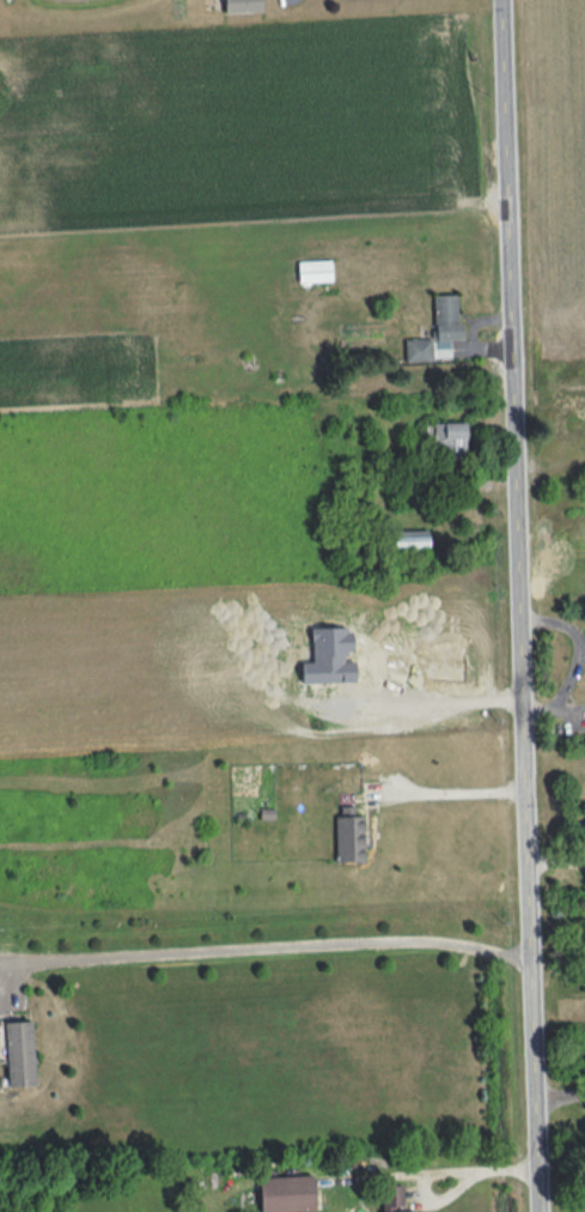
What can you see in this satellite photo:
building: (242, 6)
crop: (230, 144)
building: (315, 271)
building: (437, 332)
building: (449, 437)
building: (409, 538)
crop: (188, 582)
road: (517, 606)
building: (329, 656)
road: (446, 702)
road: (459, 794)
building: (349, 837)
road: (555, 861)
road: (264, 946)
building: (19, 1053)
road: (557, 1098)
road: (438, 1171)
building: (287, 1193)
building: (392, 1199)

